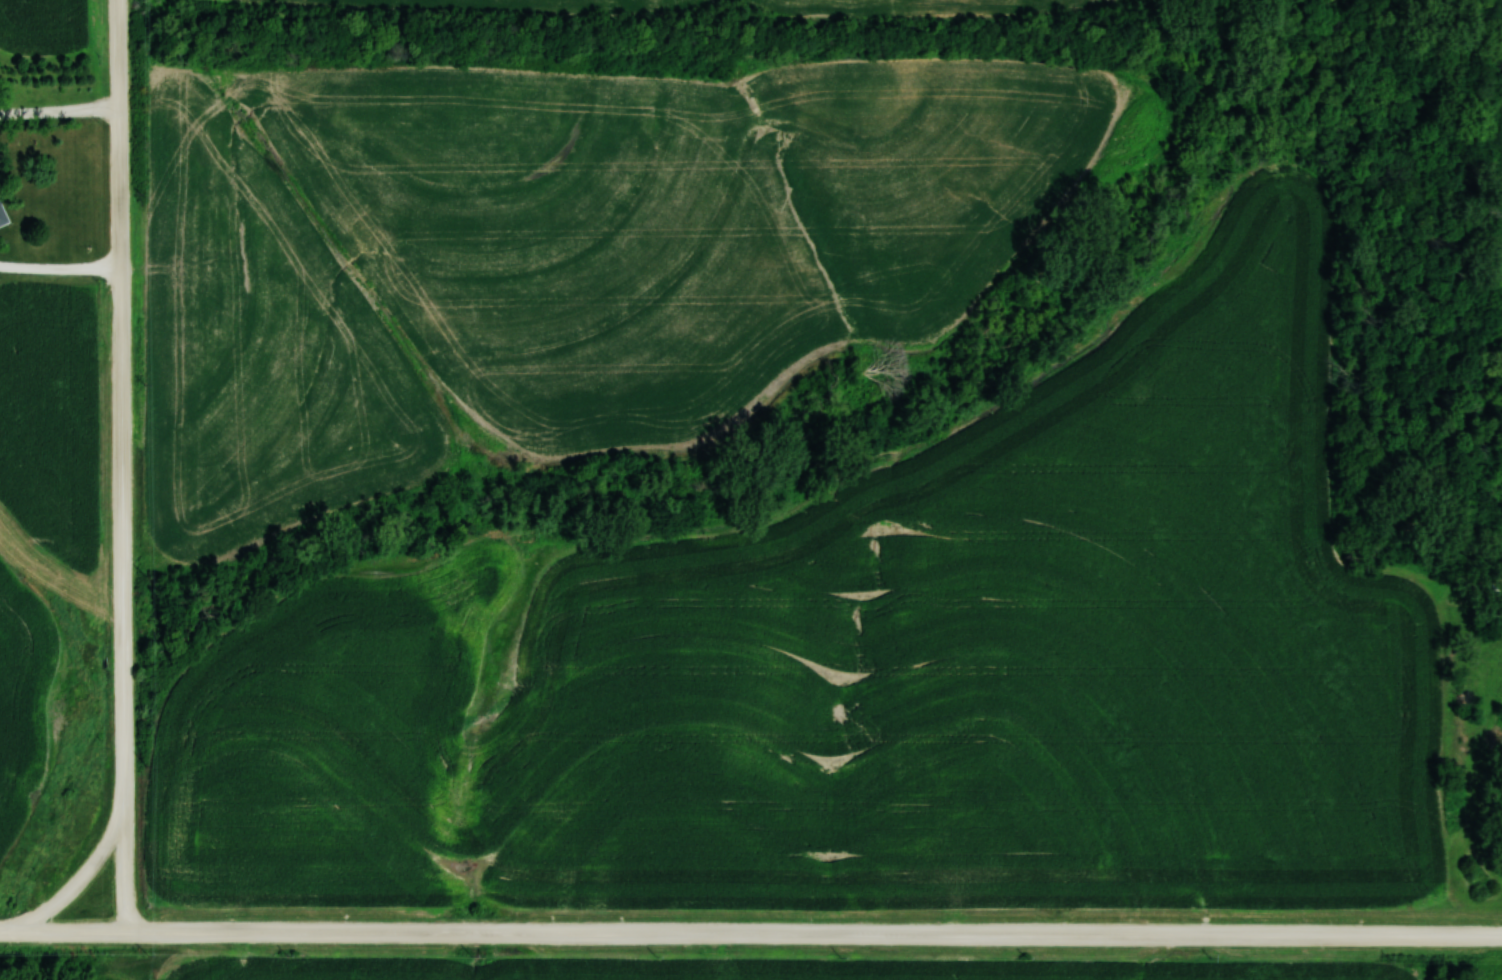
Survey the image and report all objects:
road: (60, 111)
building: (2, 217)
road: (60, 268)
road: (122, 492)
road: (124, 862)
road: (750, 934)

